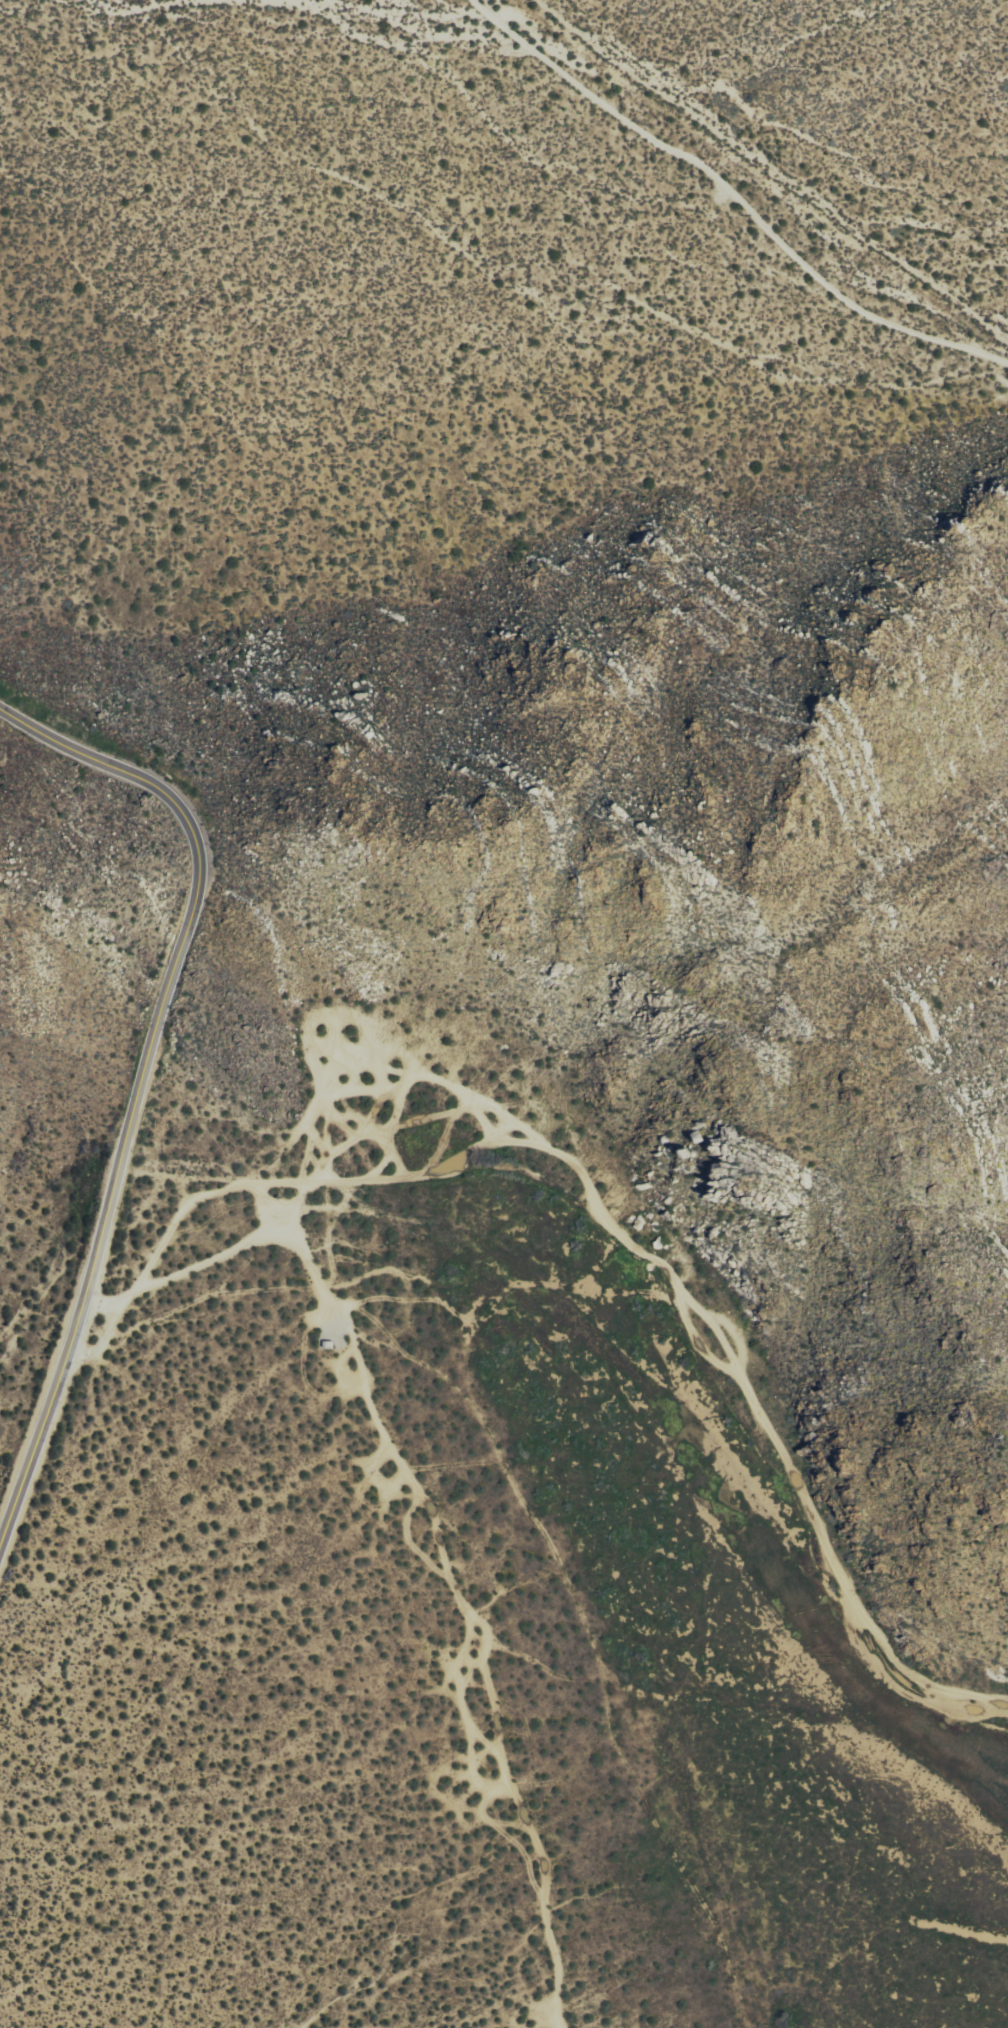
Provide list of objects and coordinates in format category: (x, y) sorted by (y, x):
road: (734, 197)
road: (410, 1080)
road: (141, 1087)
road: (332, 1102)
road: (278, 1181)
road: (624, 1239)
road: (159, 1244)
road: (712, 1323)
building: (327, 1343)
road: (461, 1608)

